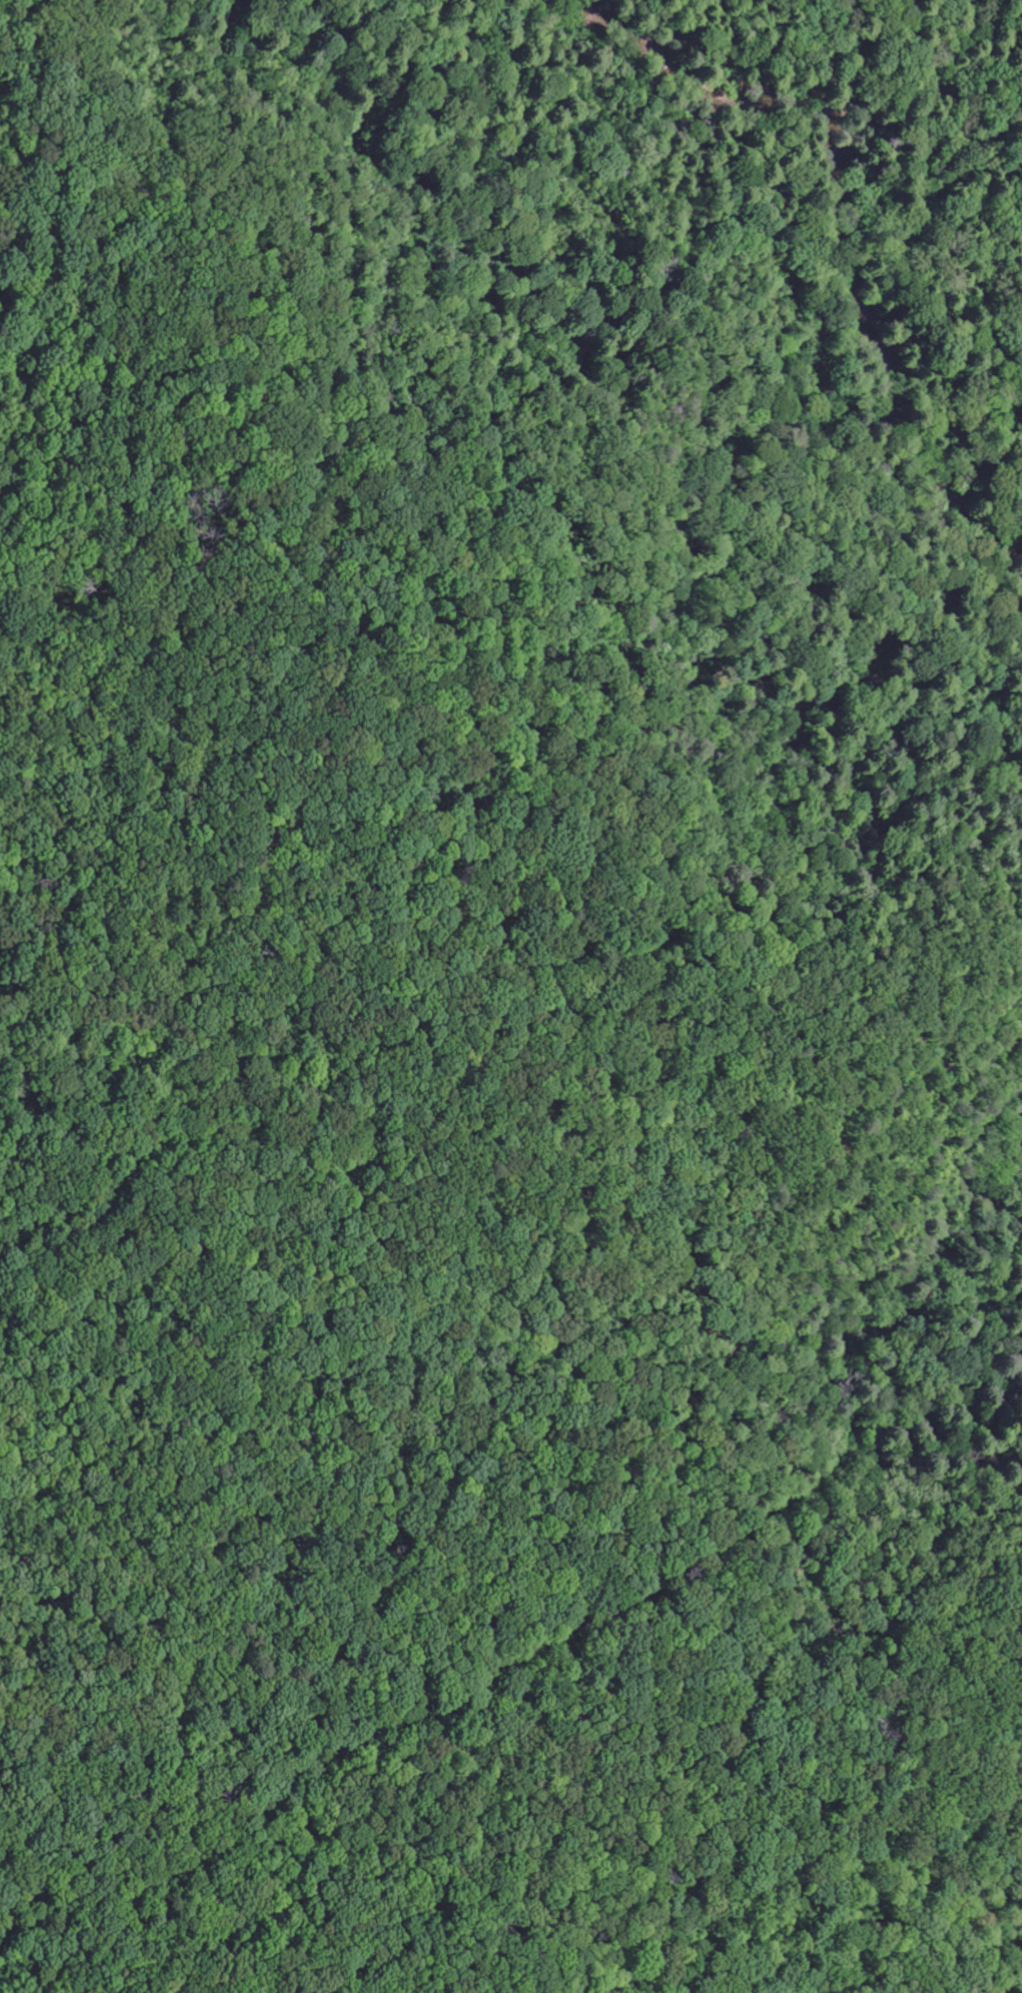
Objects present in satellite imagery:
road: (356, 1741)

